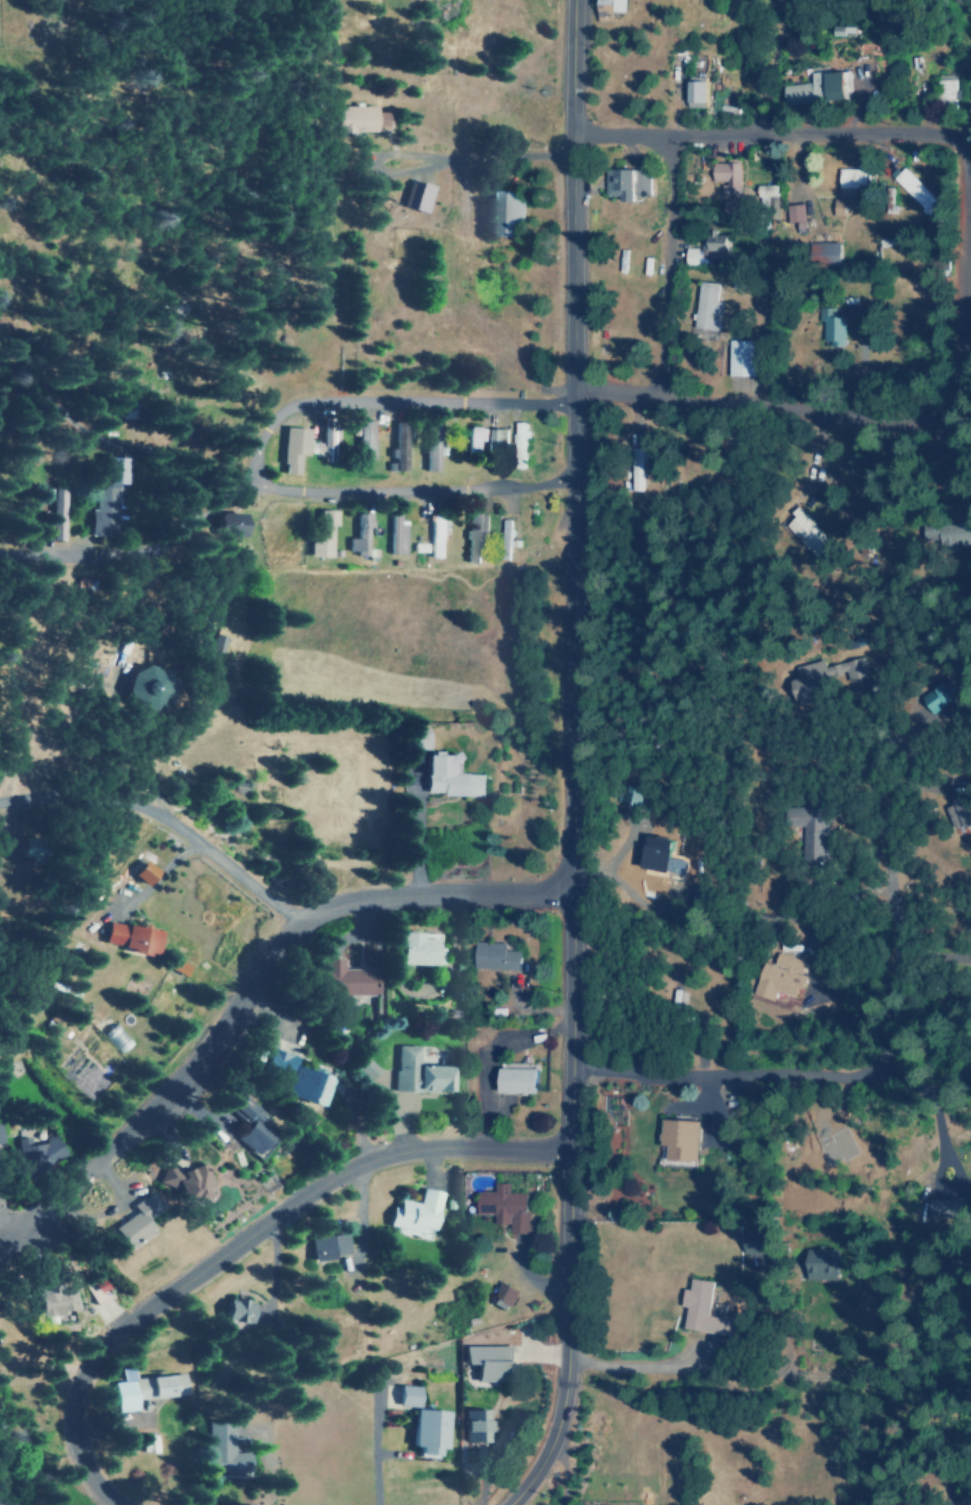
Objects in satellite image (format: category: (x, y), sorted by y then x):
road: (409, 64)
road: (753, 127)
road: (957, 190)
road: (356, 195)
road: (568, 243)
road: (652, 256)
road: (957, 317)
road: (760, 395)
road: (265, 447)
road: (264, 482)
road: (113, 483)
road: (242, 483)
road: (166, 821)
road: (566, 949)
road: (257, 973)
road: (728, 999)
road: (712, 1071)
road: (237, 1241)
road: (540, 1463)

